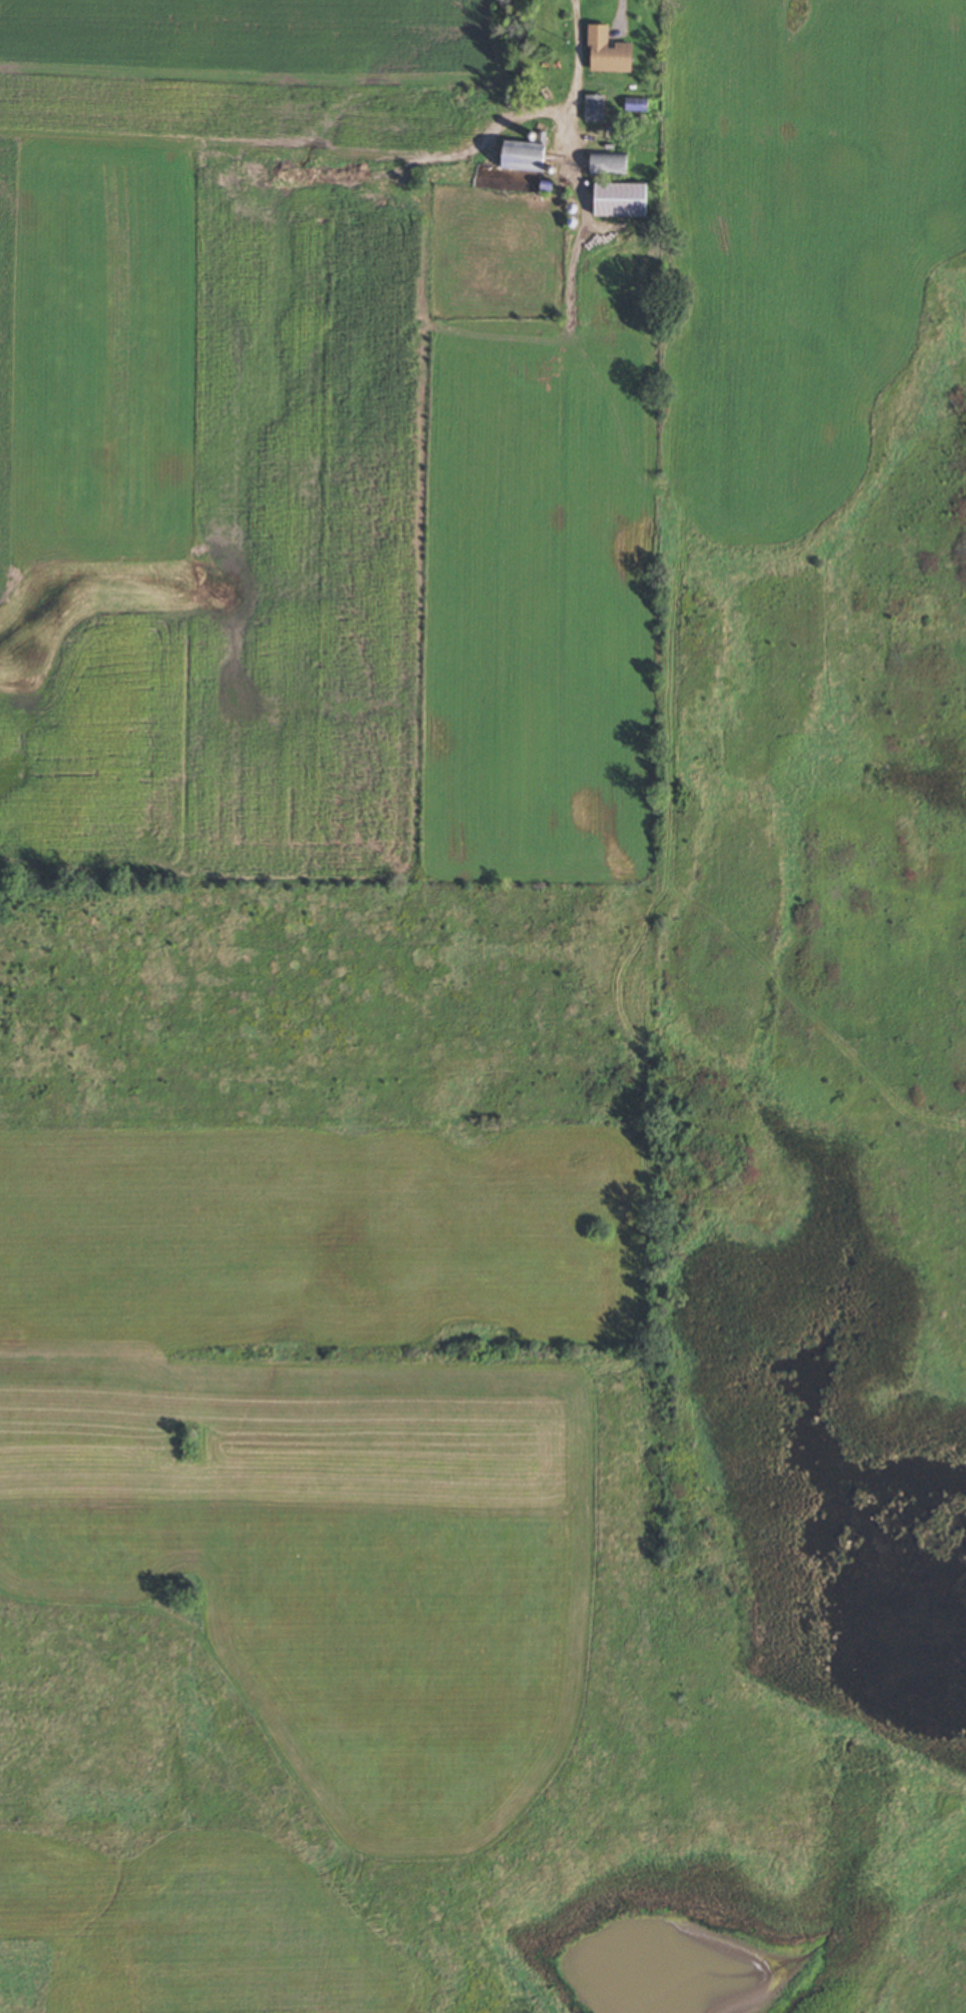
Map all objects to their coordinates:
building: (609, 52)
road: (578, 71)
building: (638, 101)
building: (596, 108)
building: (525, 156)
building: (610, 164)
building: (622, 199)

